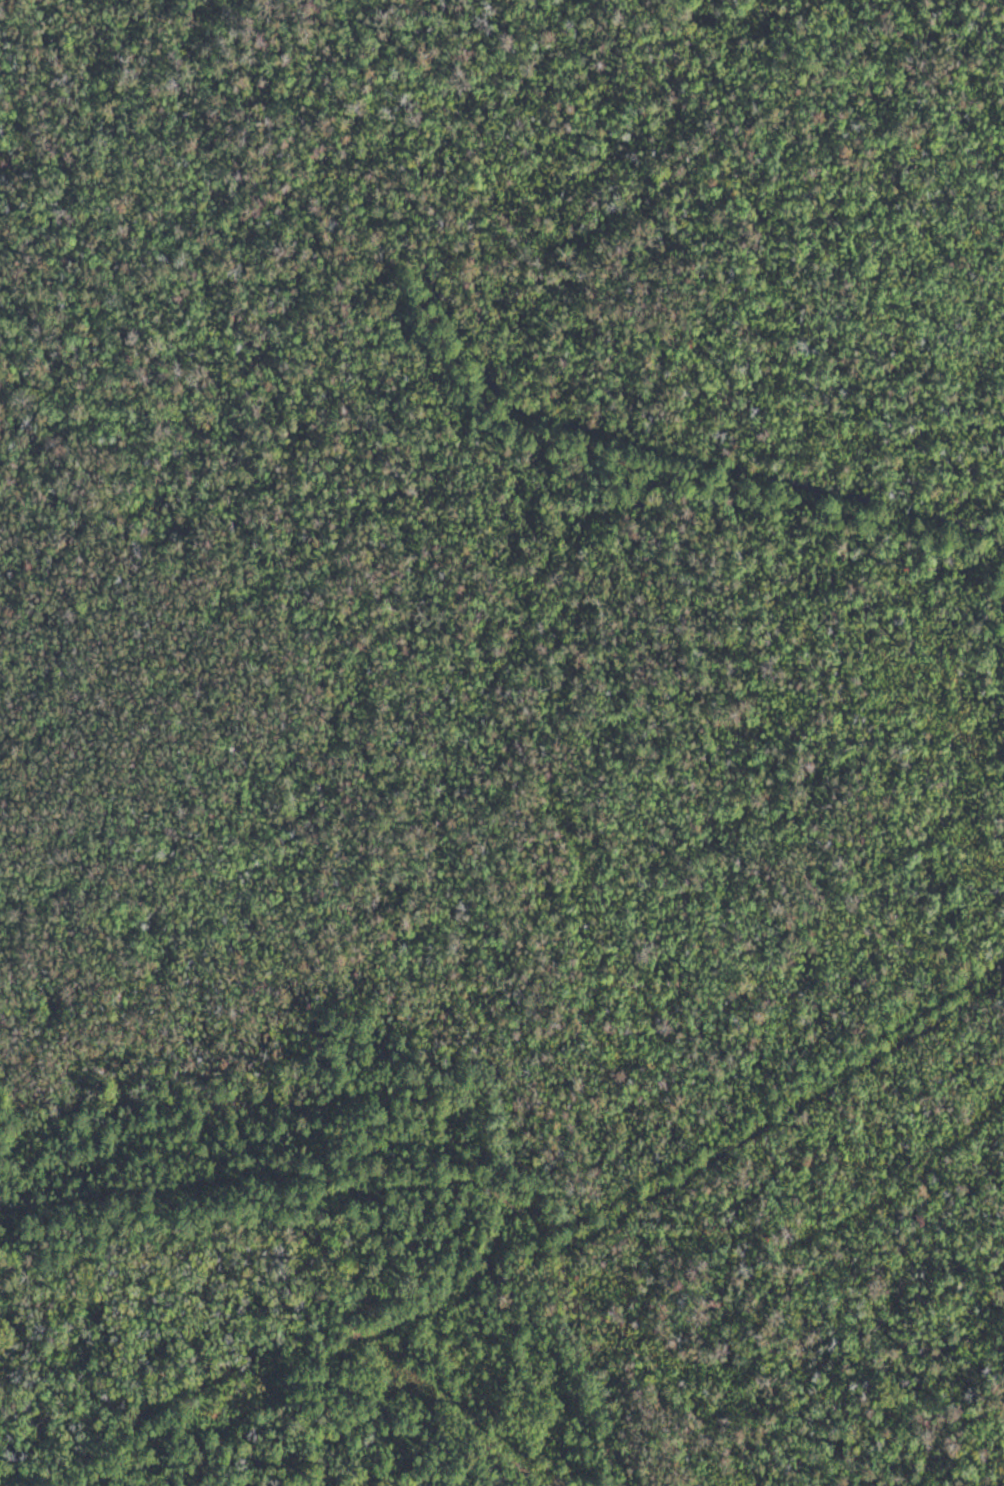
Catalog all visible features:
road: (399, 1145)

